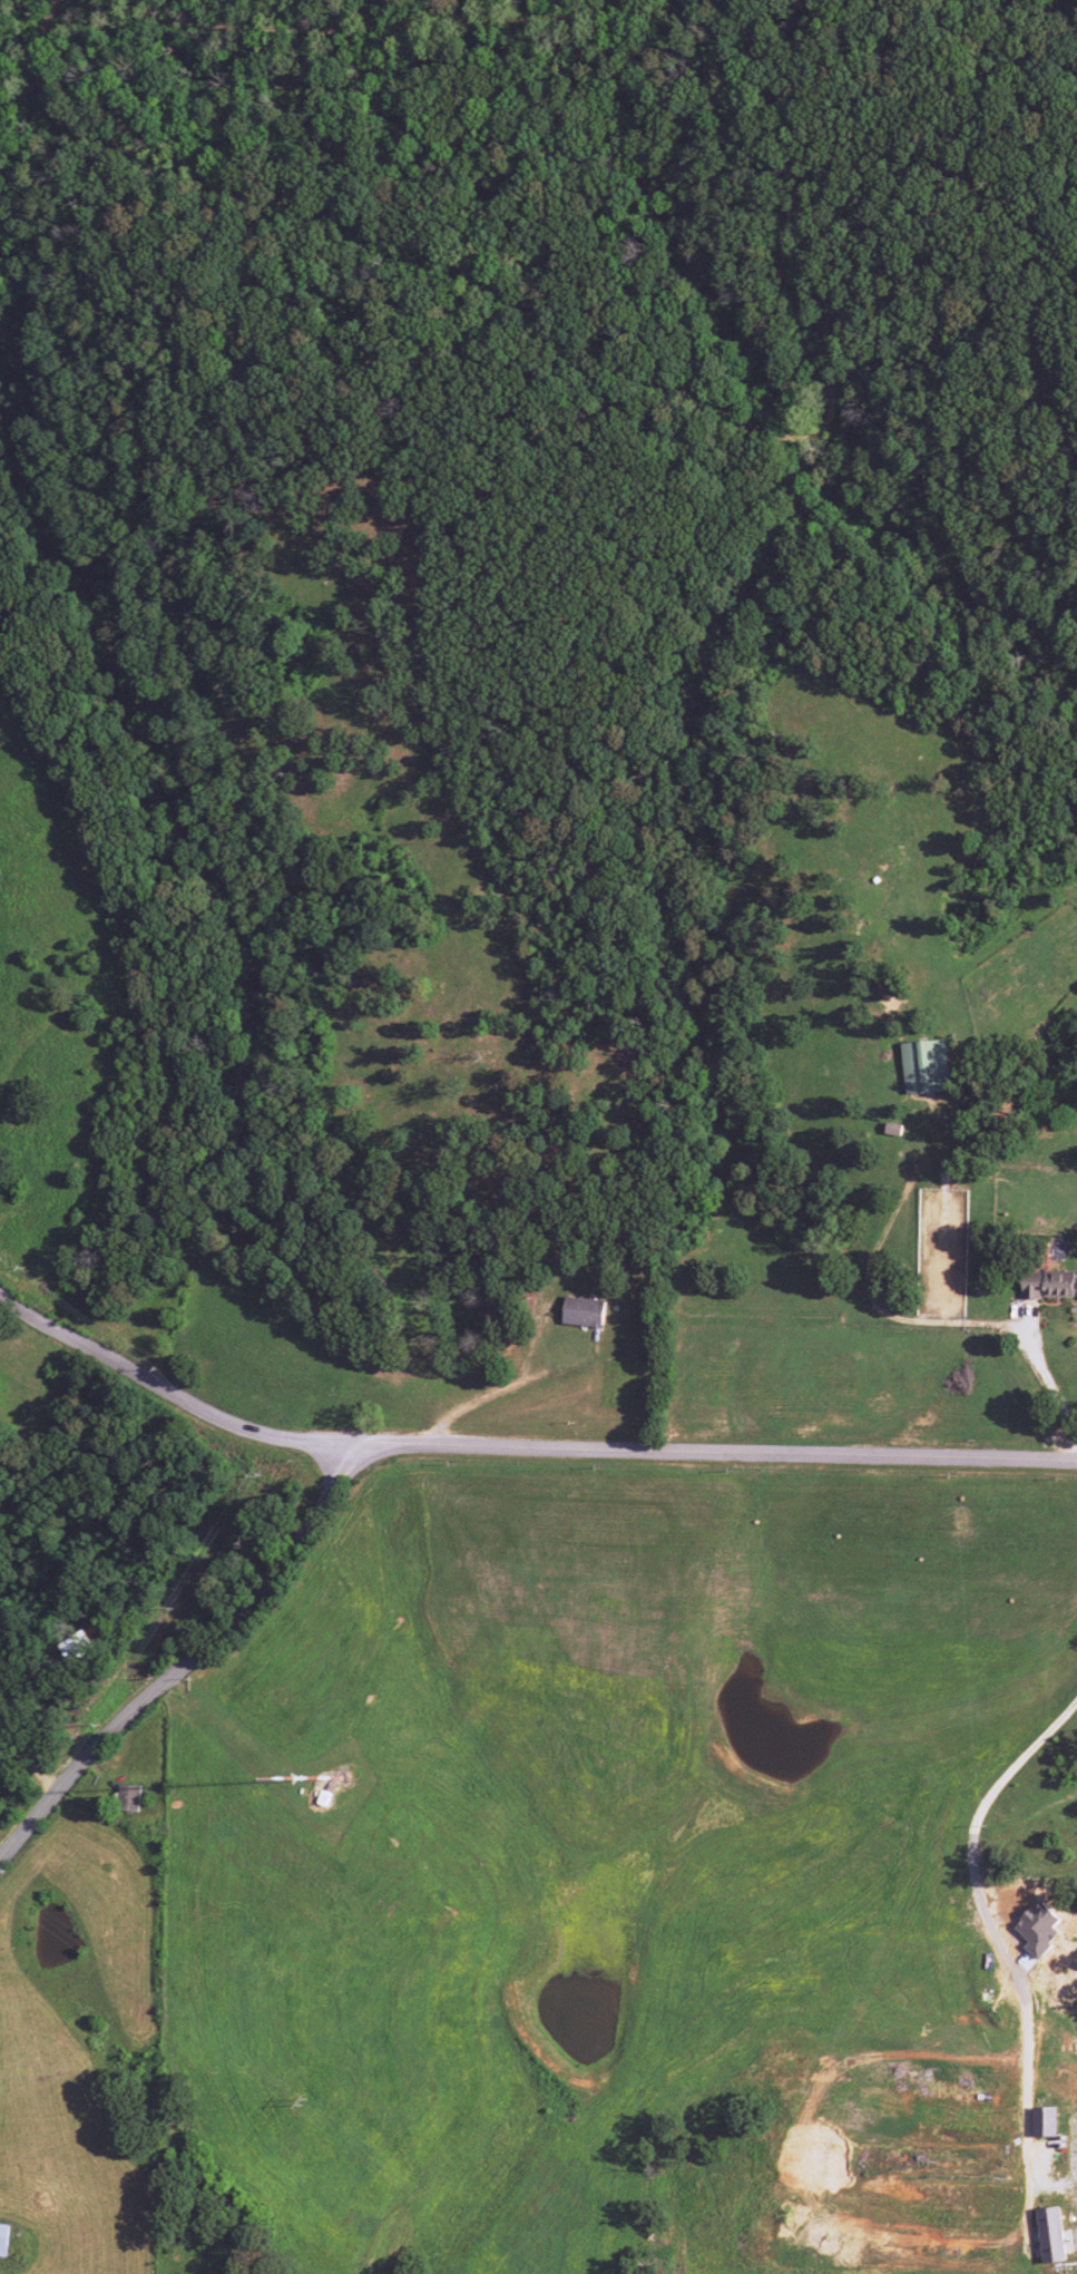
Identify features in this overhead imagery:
road: (603, 12)
road: (325, 31)
road: (1050, 353)
road: (408, 365)
road: (643, 375)
building: (926, 1066)
building: (1047, 1285)
building: (584, 1312)
road: (164, 1388)
road: (709, 1451)
road: (188, 1659)
road: (12, 1733)
road: (11, 1760)
road: (39, 1776)
building: (128, 1797)
building: (1044, 2121)
building: (1050, 2235)
building: (3, 2239)

